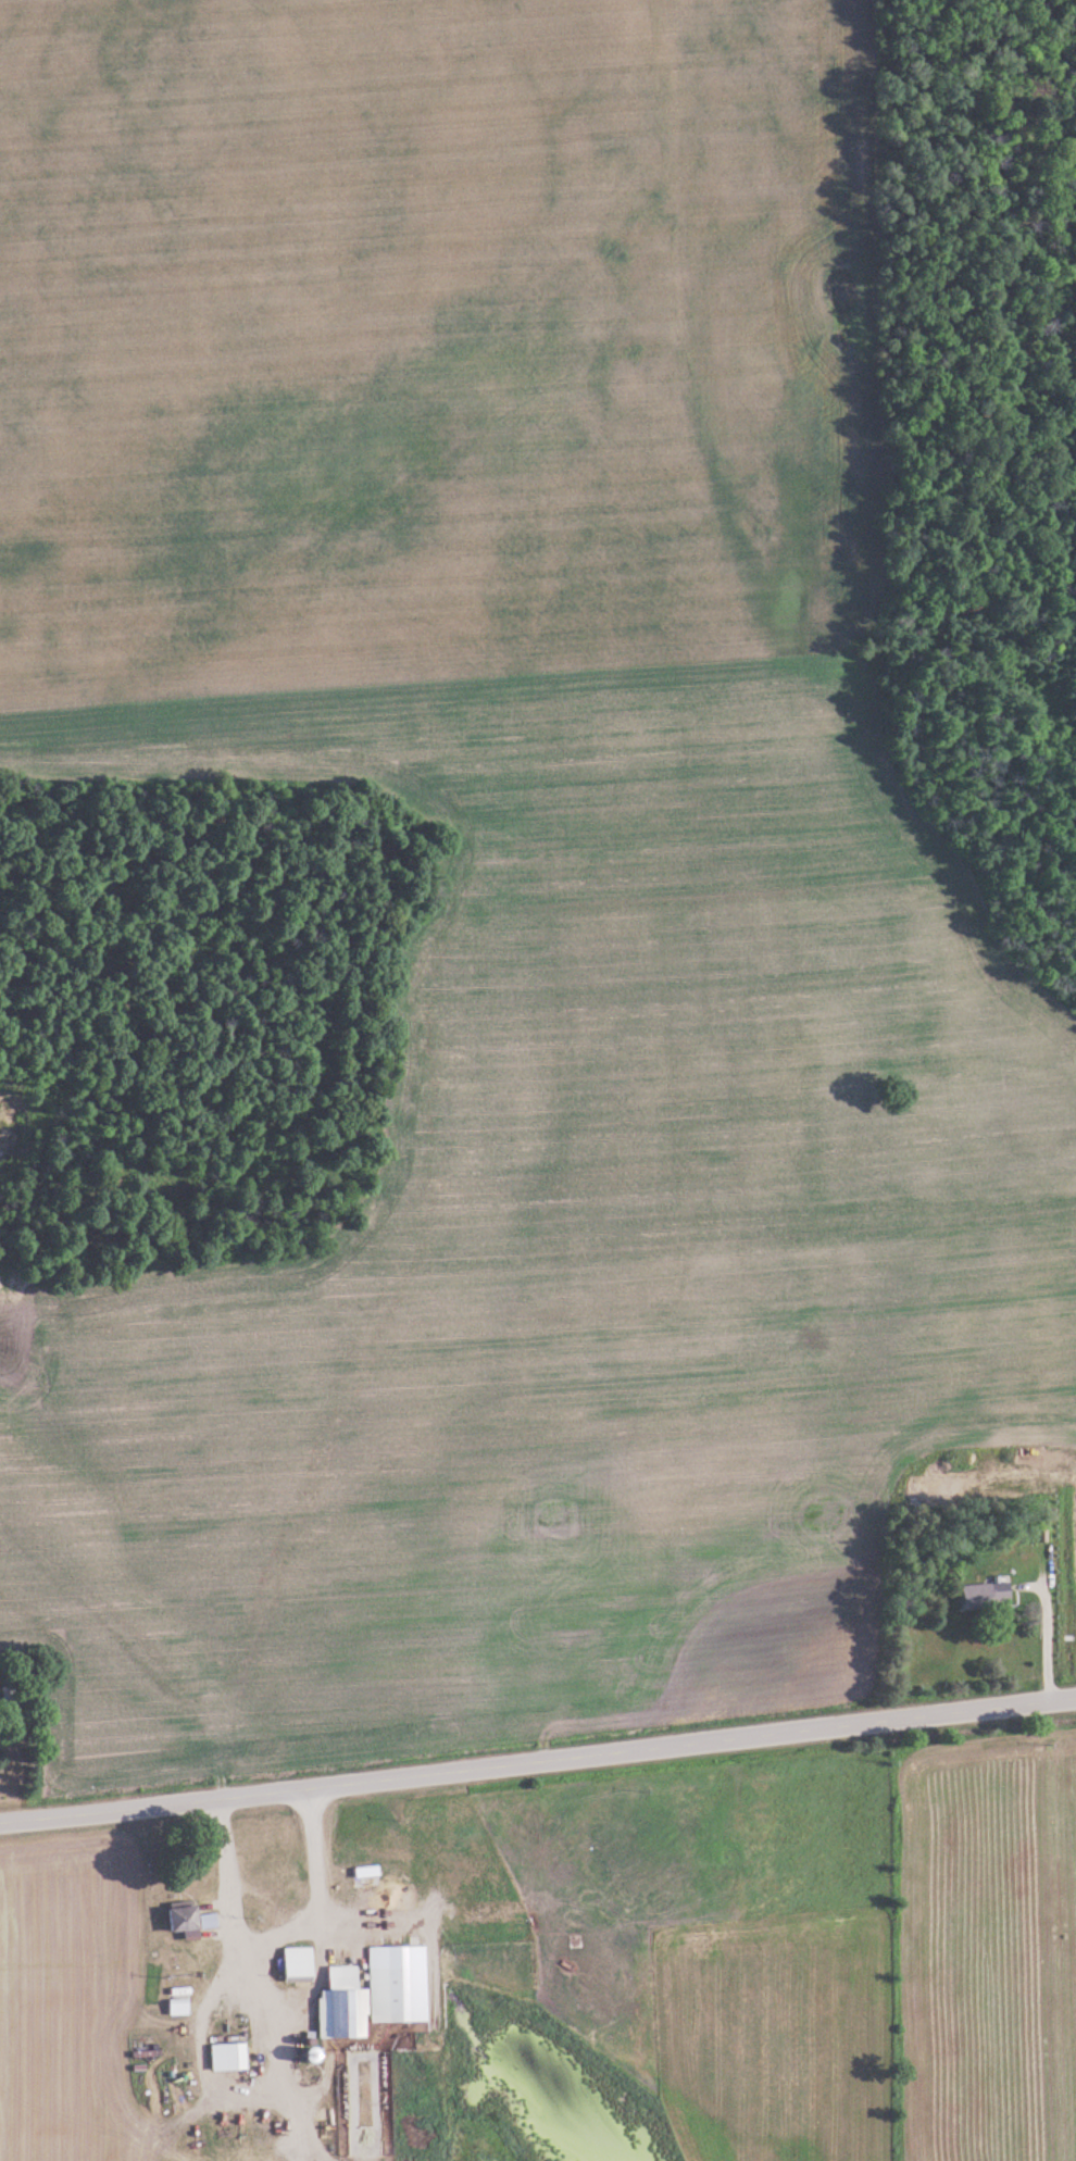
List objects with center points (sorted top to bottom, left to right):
building: (986, 1596)
road: (538, 1758)
building: (298, 1963)
building: (389, 1993)
building: (342, 2004)
building: (179, 2007)
building: (229, 2057)

